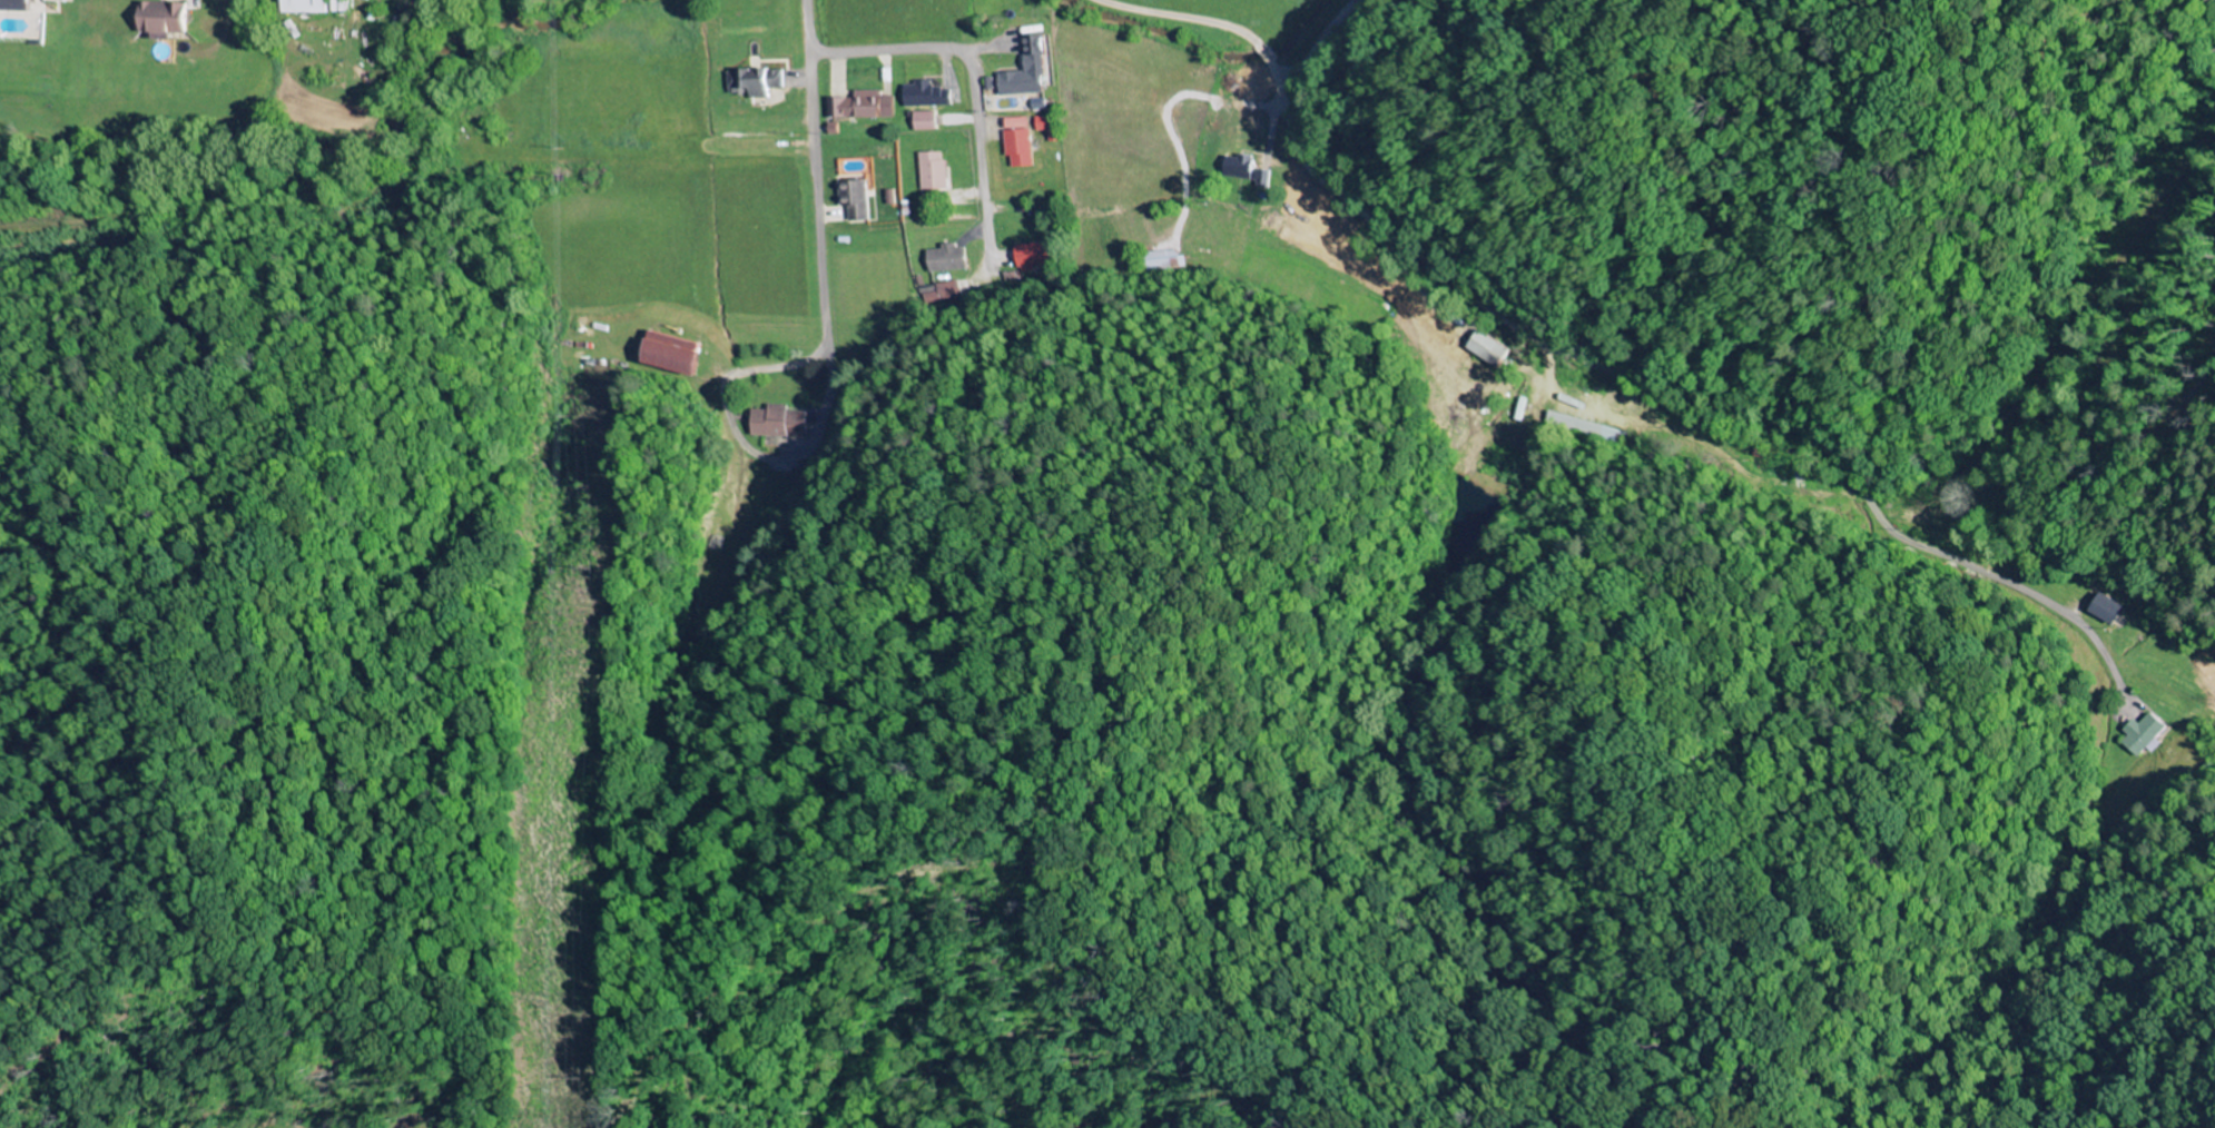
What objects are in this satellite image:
building: (17, 6)
building: (311, 7)
building: (169, 19)
building: (1028, 69)
road: (966, 73)
building: (758, 81)
building: (927, 95)
building: (864, 106)
building: (926, 120)
building: (1049, 127)
building: (1018, 140)
building: (933, 170)
building: (1250, 174)
road: (816, 175)
building: (856, 198)
building: (1030, 256)
building: (947, 258)
building: (942, 289)
road: (1470, 298)
building: (1486, 348)
building: (675, 355)
building: (780, 422)
building: (2109, 608)
building: (2144, 734)
power tower: (568, 1078)

